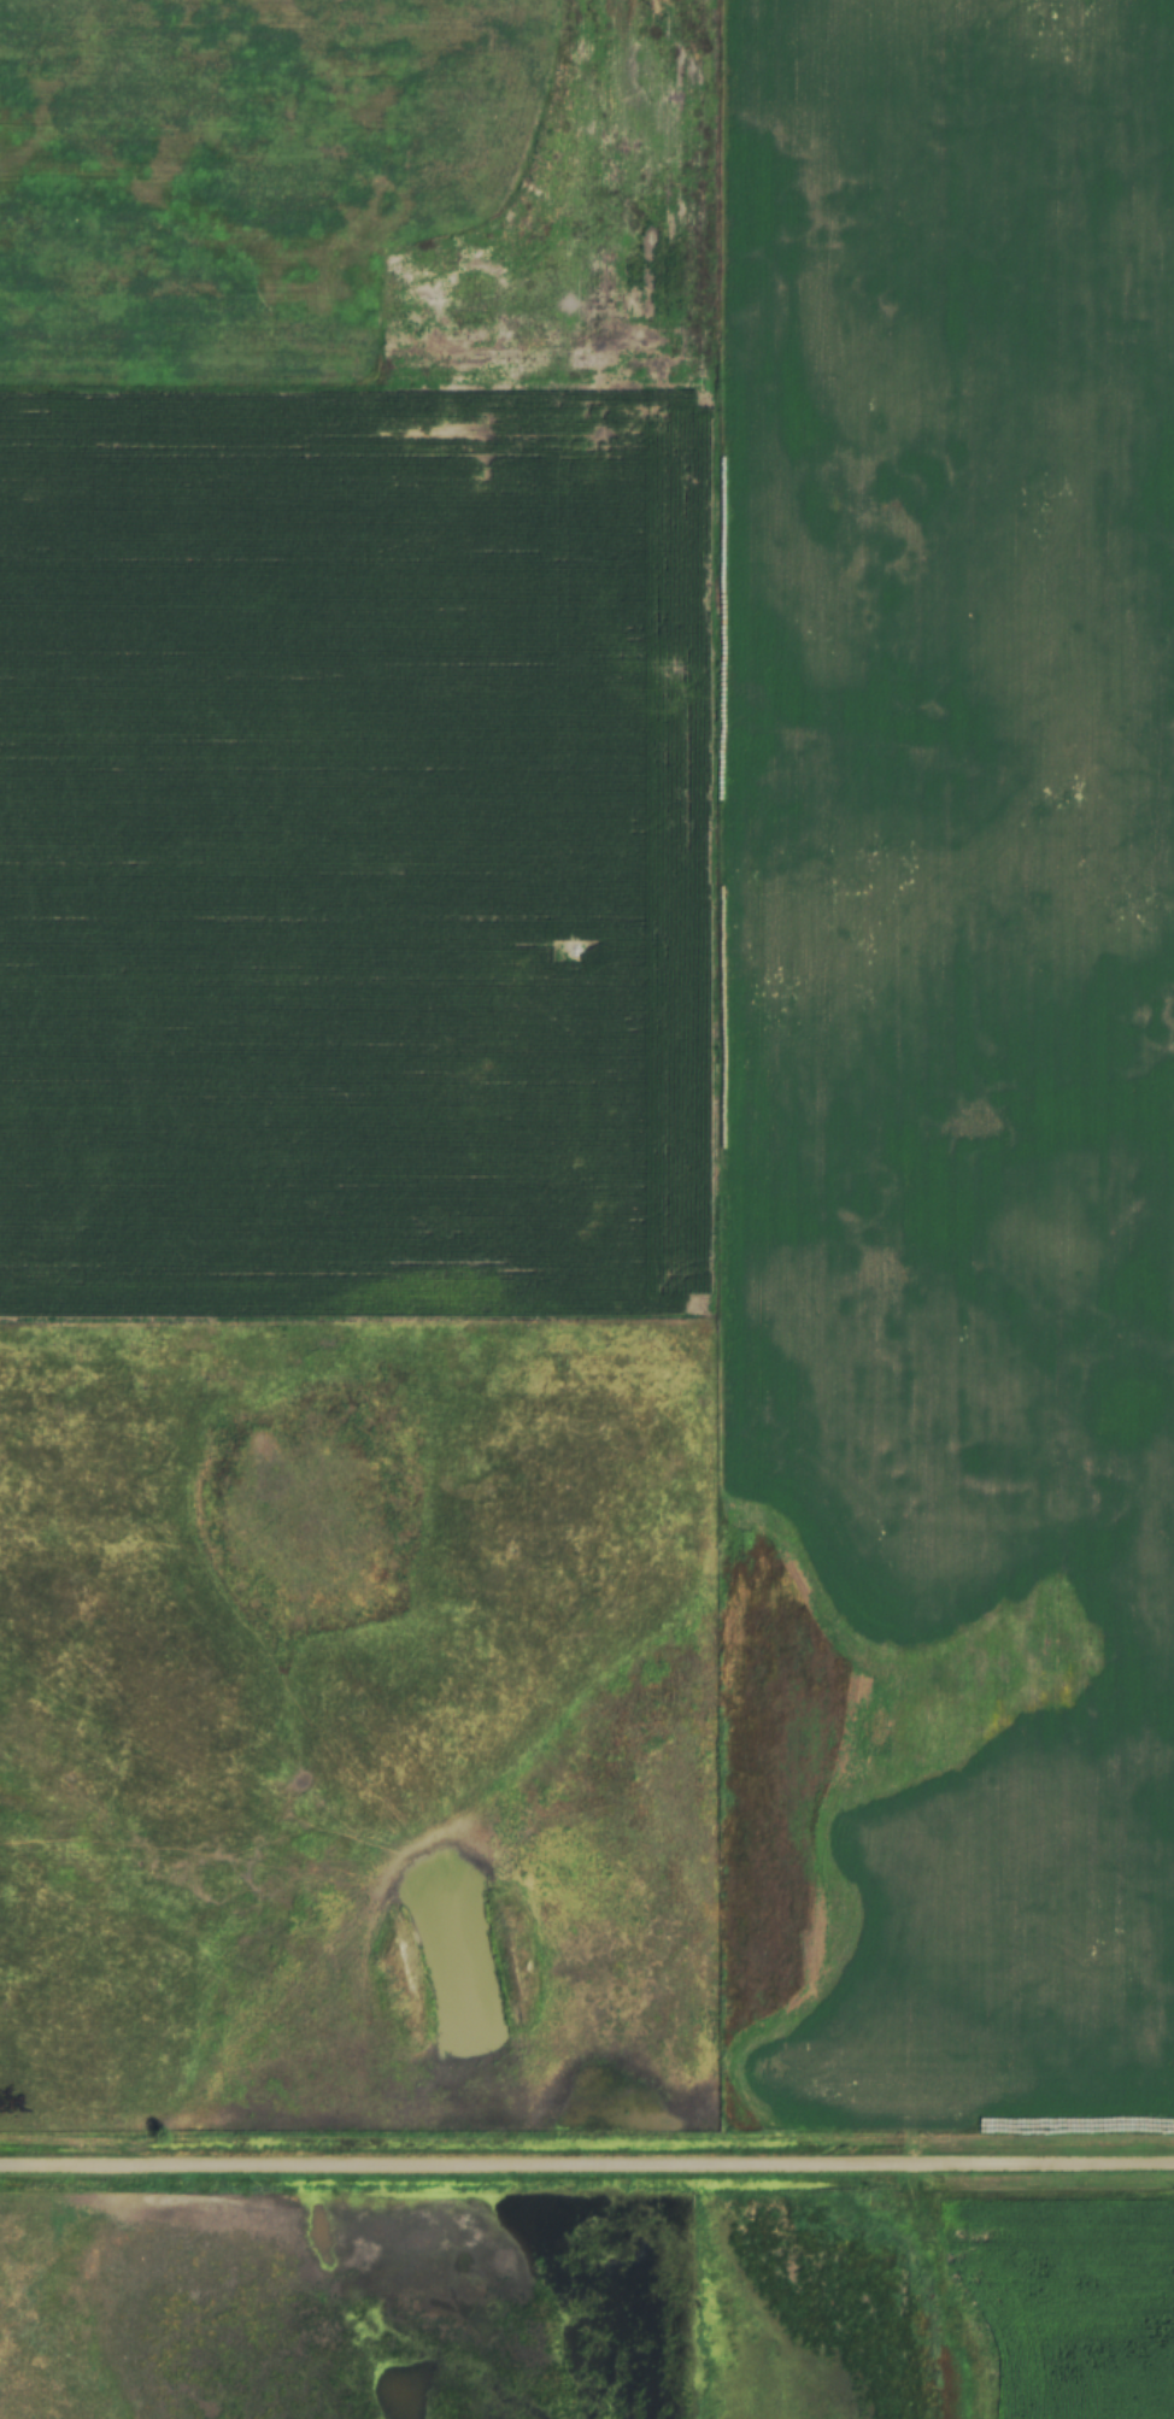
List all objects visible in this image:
road: (587, 2153)

